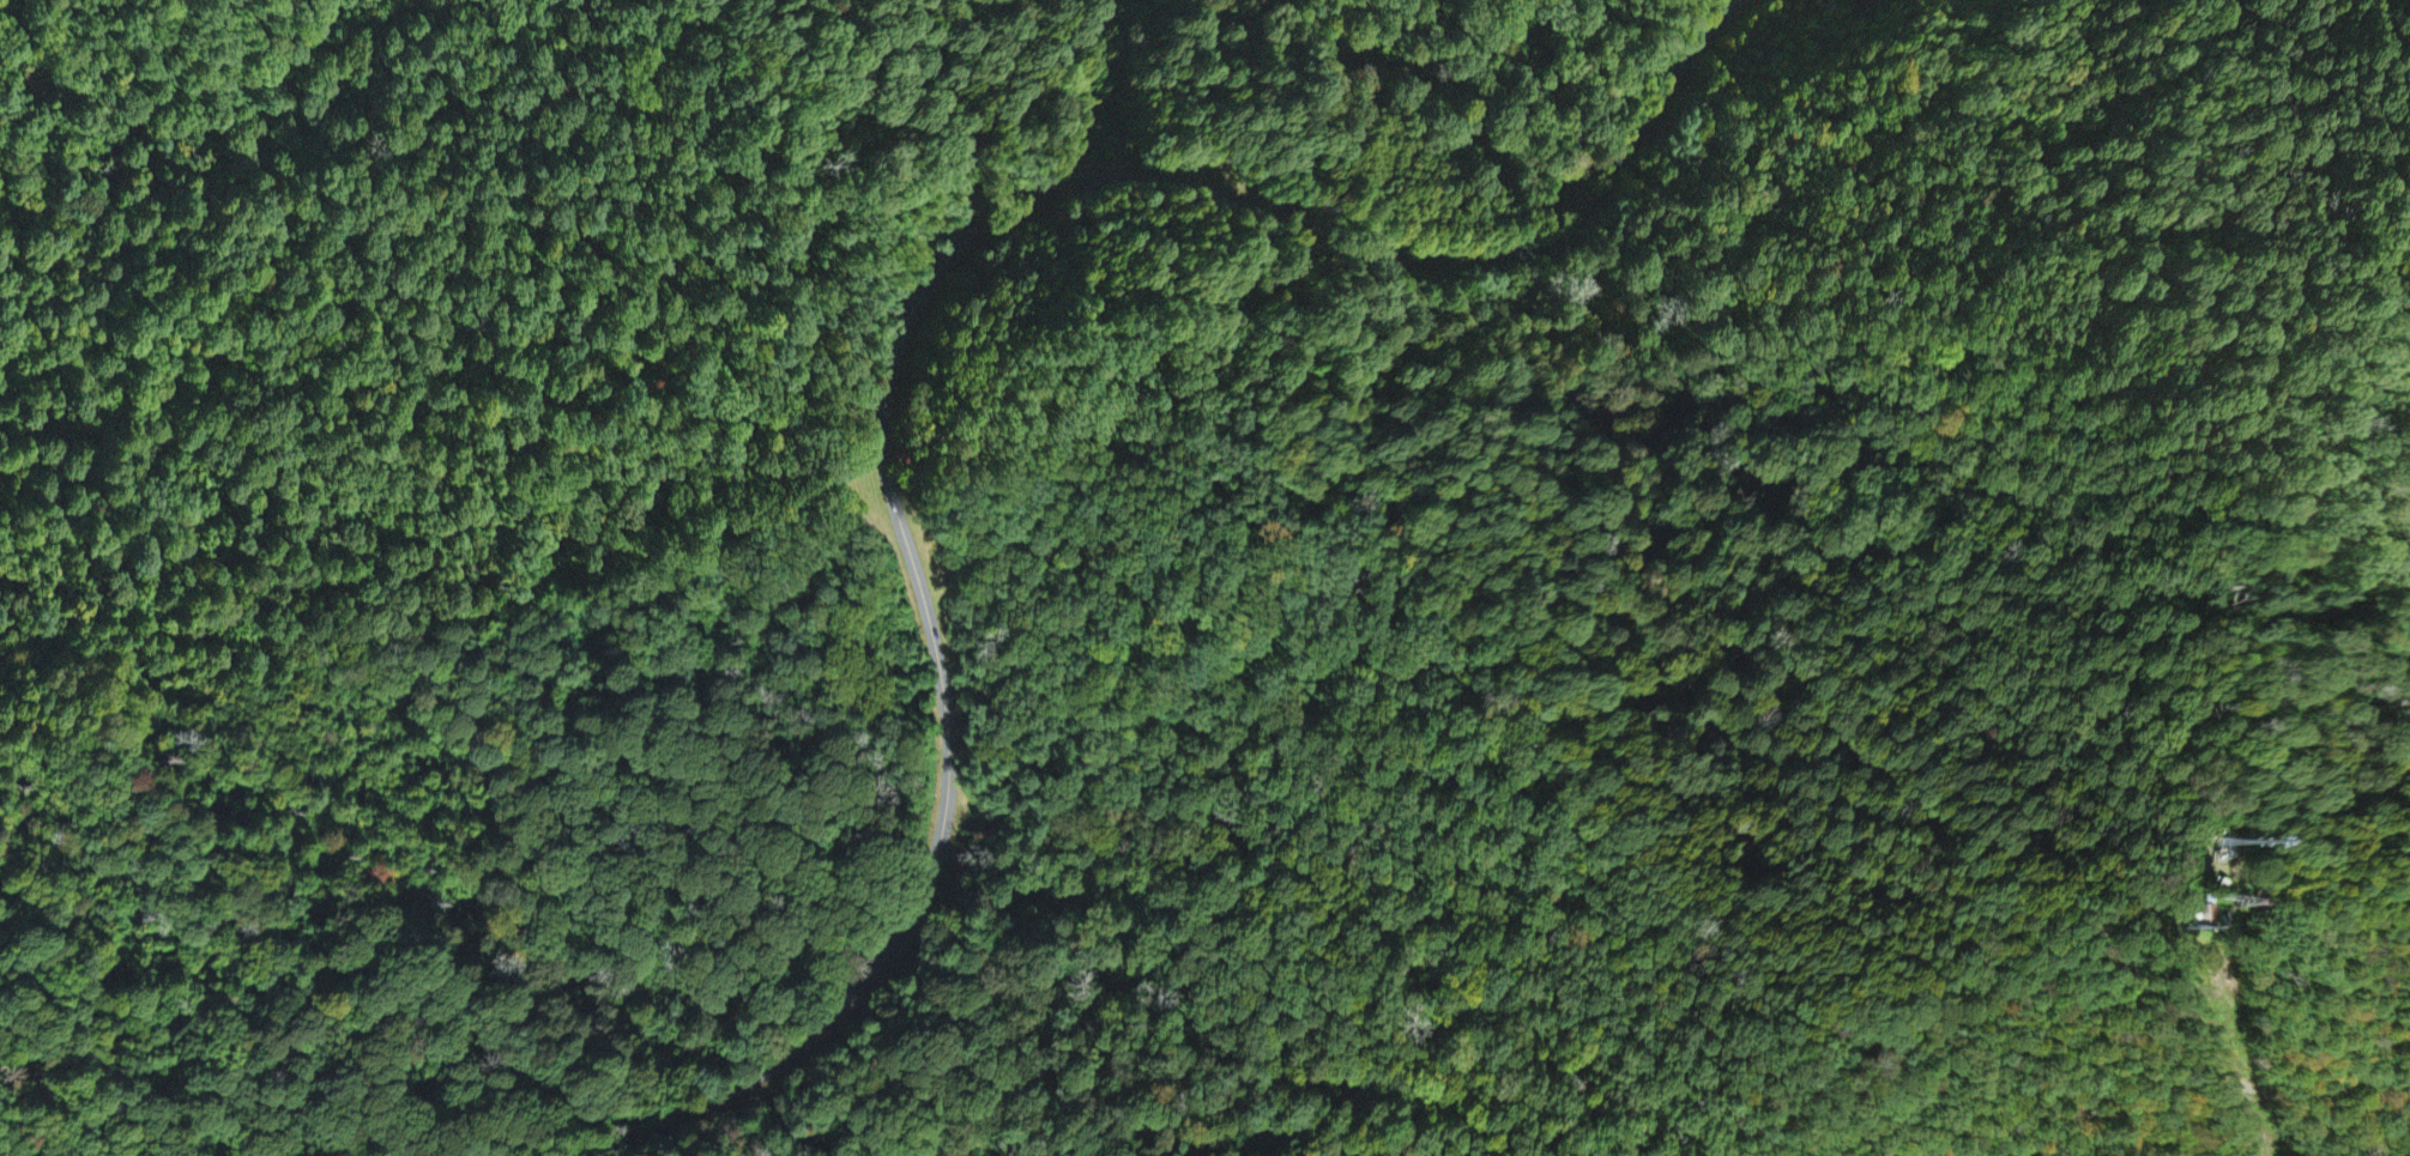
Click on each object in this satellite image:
road: (911, 323)
road: (2109, 1103)

